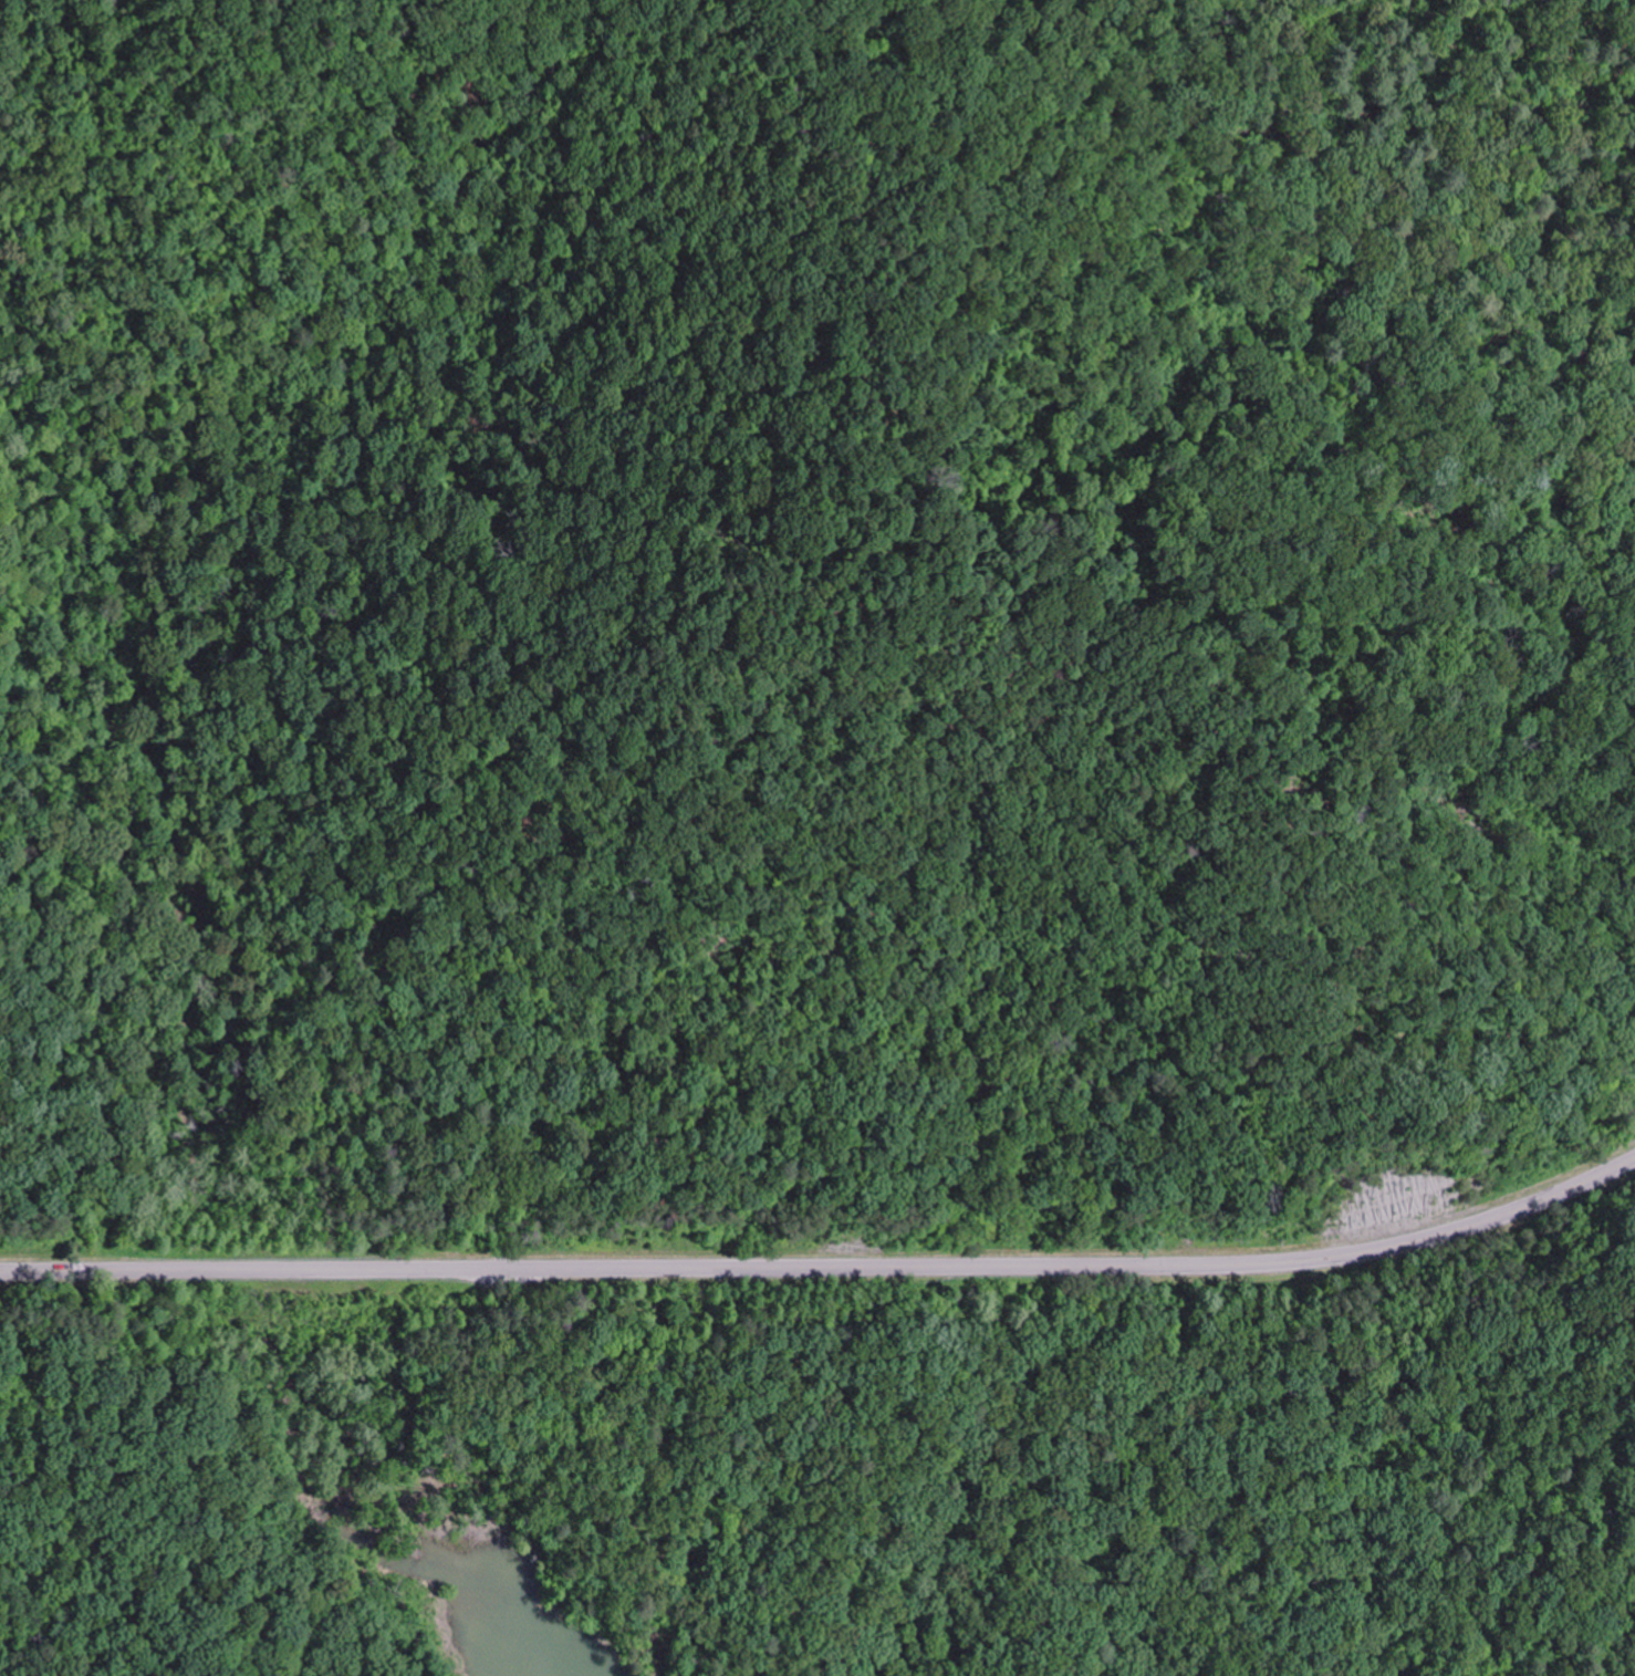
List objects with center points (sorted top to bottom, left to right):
road: (826, 1267)

